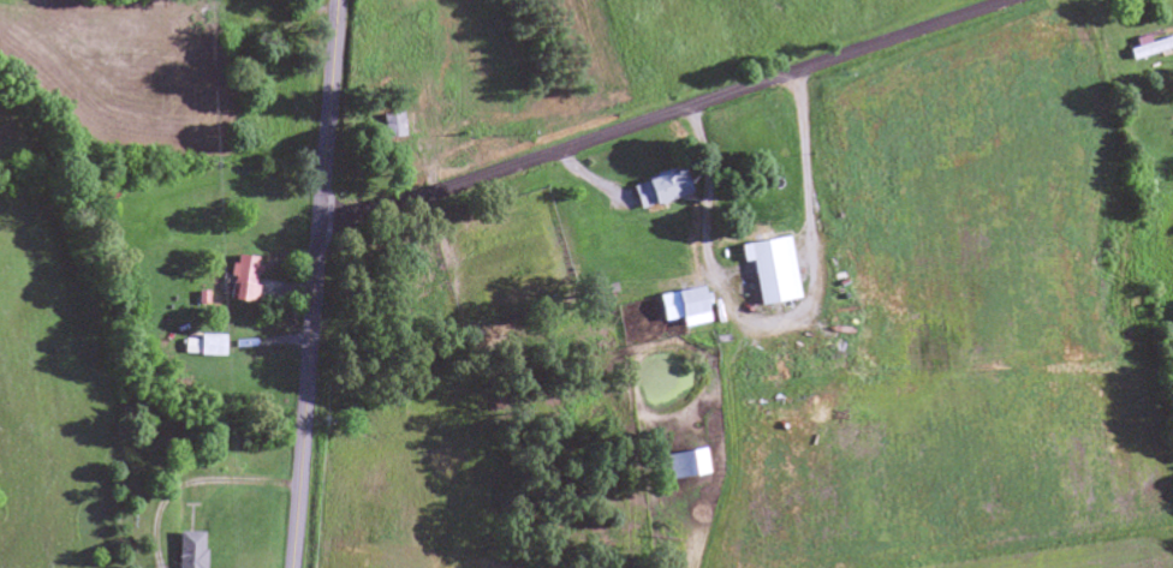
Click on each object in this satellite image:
building: (240, 1)
building: (1145, 49)
road: (671, 115)
building: (392, 122)
building: (657, 189)
building: (767, 270)
building: (240, 280)
road: (315, 283)
building: (683, 309)
building: (594, 337)
building: (208, 346)
building: (680, 465)
building: (186, 550)

